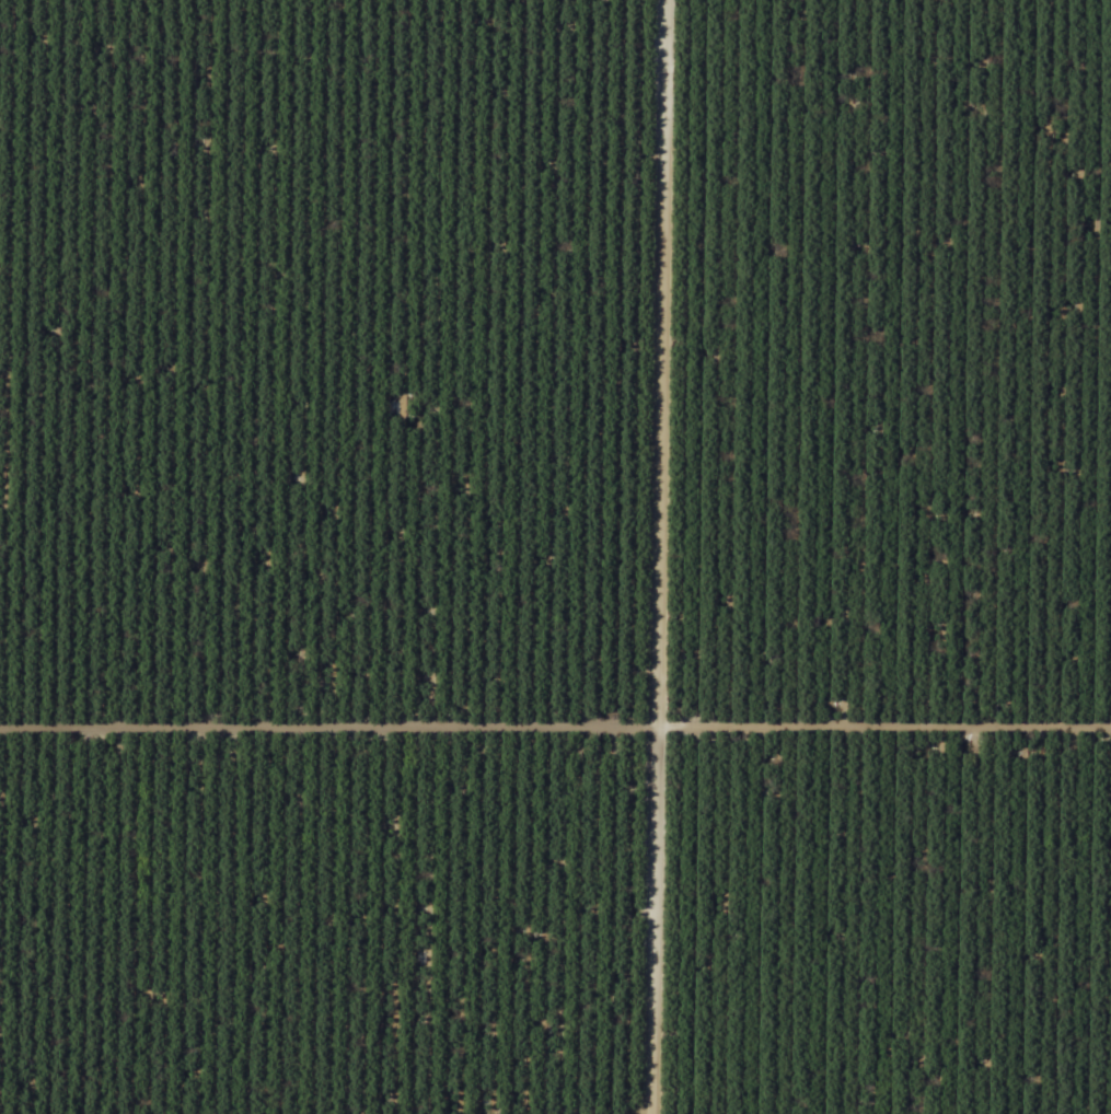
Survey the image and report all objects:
crop: (555, 557)
road: (612, 557)

